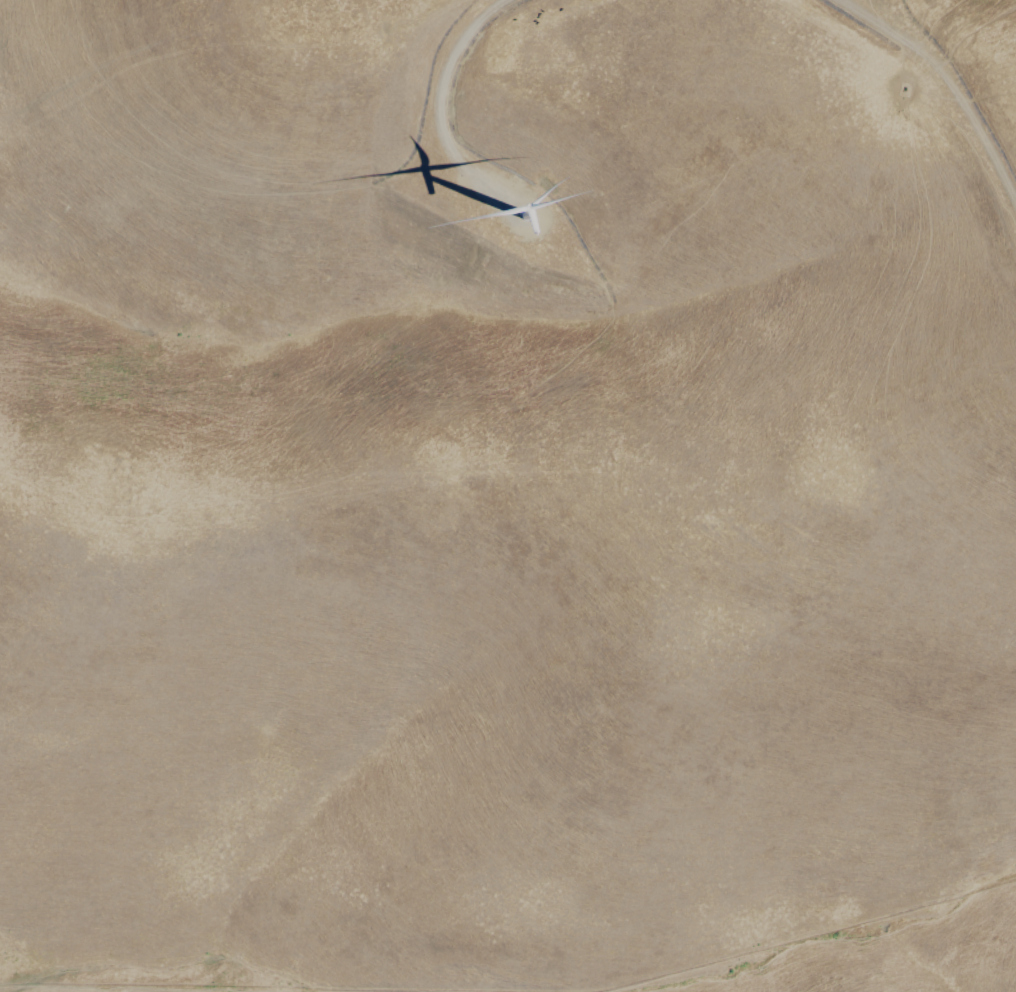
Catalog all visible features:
road: (937, 92)
road: (432, 104)
wind turbine: (533, 210)

